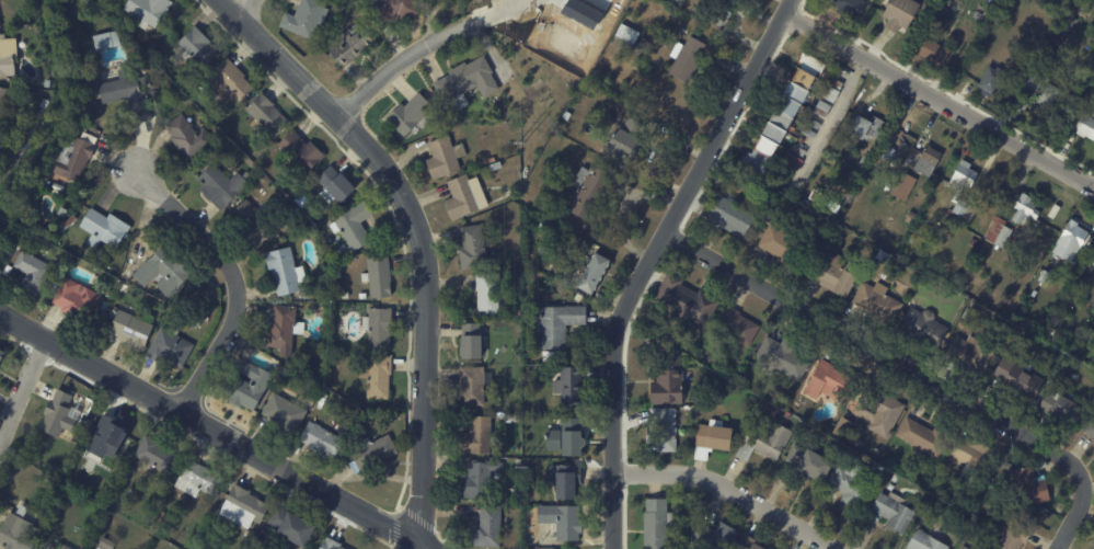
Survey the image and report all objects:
road: (243, 3)
building: (847, 7)
building: (394, 10)
road: (511, 10)
building: (716, 10)
building: (150, 11)
building: (694, 12)
building: (1006, 12)
building: (897, 14)
building: (308, 19)
building: (1068, 20)
building: (0, 24)
building: (630, 34)
building: (643, 45)
building: (199, 47)
building: (354, 47)
building: (932, 53)
building: (9, 56)
building: (690, 58)
road: (407, 62)
building: (989, 80)
building: (233, 82)
building: (469, 82)
building: (833, 82)
building: (1040, 89)
building: (827, 93)
building: (129, 95)
road: (942, 95)
building: (22, 98)
building: (4, 102)
building: (45, 104)
building: (819, 108)
building: (782, 114)
building: (269, 115)
building: (414, 115)
building: (810, 123)
building: (1084, 126)
building: (864, 128)
building: (806, 131)
building: (191, 137)
building: (1071, 137)
power tower: (520, 141)
building: (630, 141)
building: (20, 149)
building: (796, 150)
building: (303, 151)
building: (77, 157)
building: (446, 157)
building: (494, 160)
building: (788, 161)
building: (926, 161)
building: (498, 165)
building: (783, 172)
building: (221, 184)
building: (58, 185)
building: (337, 186)
building: (885, 186)
building: (899, 186)
building: (594, 192)
building: (959, 193)
building: (468, 197)
building: (1022, 208)
building: (62, 209)
building: (909, 214)
building: (729, 217)
building: (68, 221)
building: (354, 224)
building: (255, 225)
building: (549, 226)
building: (103, 227)
building: (45, 232)
building: (997, 232)
building: (1072, 237)
building: (56, 238)
road: (418, 239)
building: (1015, 239)
building: (781, 242)
building: (983, 247)
building: (1091, 247)
building: (475, 248)
building: (879, 256)
road: (650, 260)
building: (1092, 261)
building: (285, 268)
building: (28, 270)
building: (166, 271)
building: (378, 274)
building: (596, 274)
building: (831, 275)
road: (232, 276)
building: (1081, 281)
building: (1047, 282)
building: (491, 294)
building: (321, 296)
building: (76, 298)
building: (580, 298)
building: (682, 301)
building: (875, 302)
building: (105, 307)
building: (519, 312)
building: (965, 313)
building: (959, 323)
building: (284, 325)
building: (378, 325)
building: (561, 325)
building: (733, 327)
building: (921, 327)
building: (131, 329)
building: (1047, 331)
building: (1083, 334)
building: (474, 342)
building: (172, 347)
road: (878, 352)
building: (968, 354)
building: (2, 356)
building: (780, 356)
building: (557, 357)
building: (337, 358)
building: (280, 368)
building: (286, 373)
building: (380, 377)
building: (293, 378)
building: (665, 379)
building: (1016, 379)
building: (826, 381)
building: (246, 384)
building: (476, 386)
building: (568, 386)
road: (23, 394)
building: (1047, 401)
building: (518, 407)
building: (1063, 407)
building: (285, 410)
building: (876, 411)
building: (60, 415)
building: (785, 415)
building: (510, 419)
building: (519, 419)
road: (216, 428)
building: (659, 431)
building: (1090, 431)
building: (844, 432)
building: (565, 435)
building: (481, 437)
building: (922, 437)
building: (320, 438)
building: (712, 441)
building: (761, 442)
building: (375, 454)
building: (159, 455)
power tower: (517, 455)
building: (971, 459)
building: (807, 465)
building: (1003, 466)
building: (563, 477)
building: (895, 477)
building: (482, 479)
building: (200, 480)
building: (850, 487)
building: (1027, 487)
road: (732, 490)
building: (246, 507)
building: (891, 512)
building: (161, 515)
road: (1075, 516)
building: (562, 518)
building: (653, 524)
building: (293, 527)
building: (491, 527)
building: (18, 534)
building: (1012, 536)
building: (712, 537)
building: (922, 541)
building: (746, 544)
building: (107, 545)
building: (333, 545)
building: (67, 547)
road: (422, 547)
building: (53, 548)
building: (964, 548)

